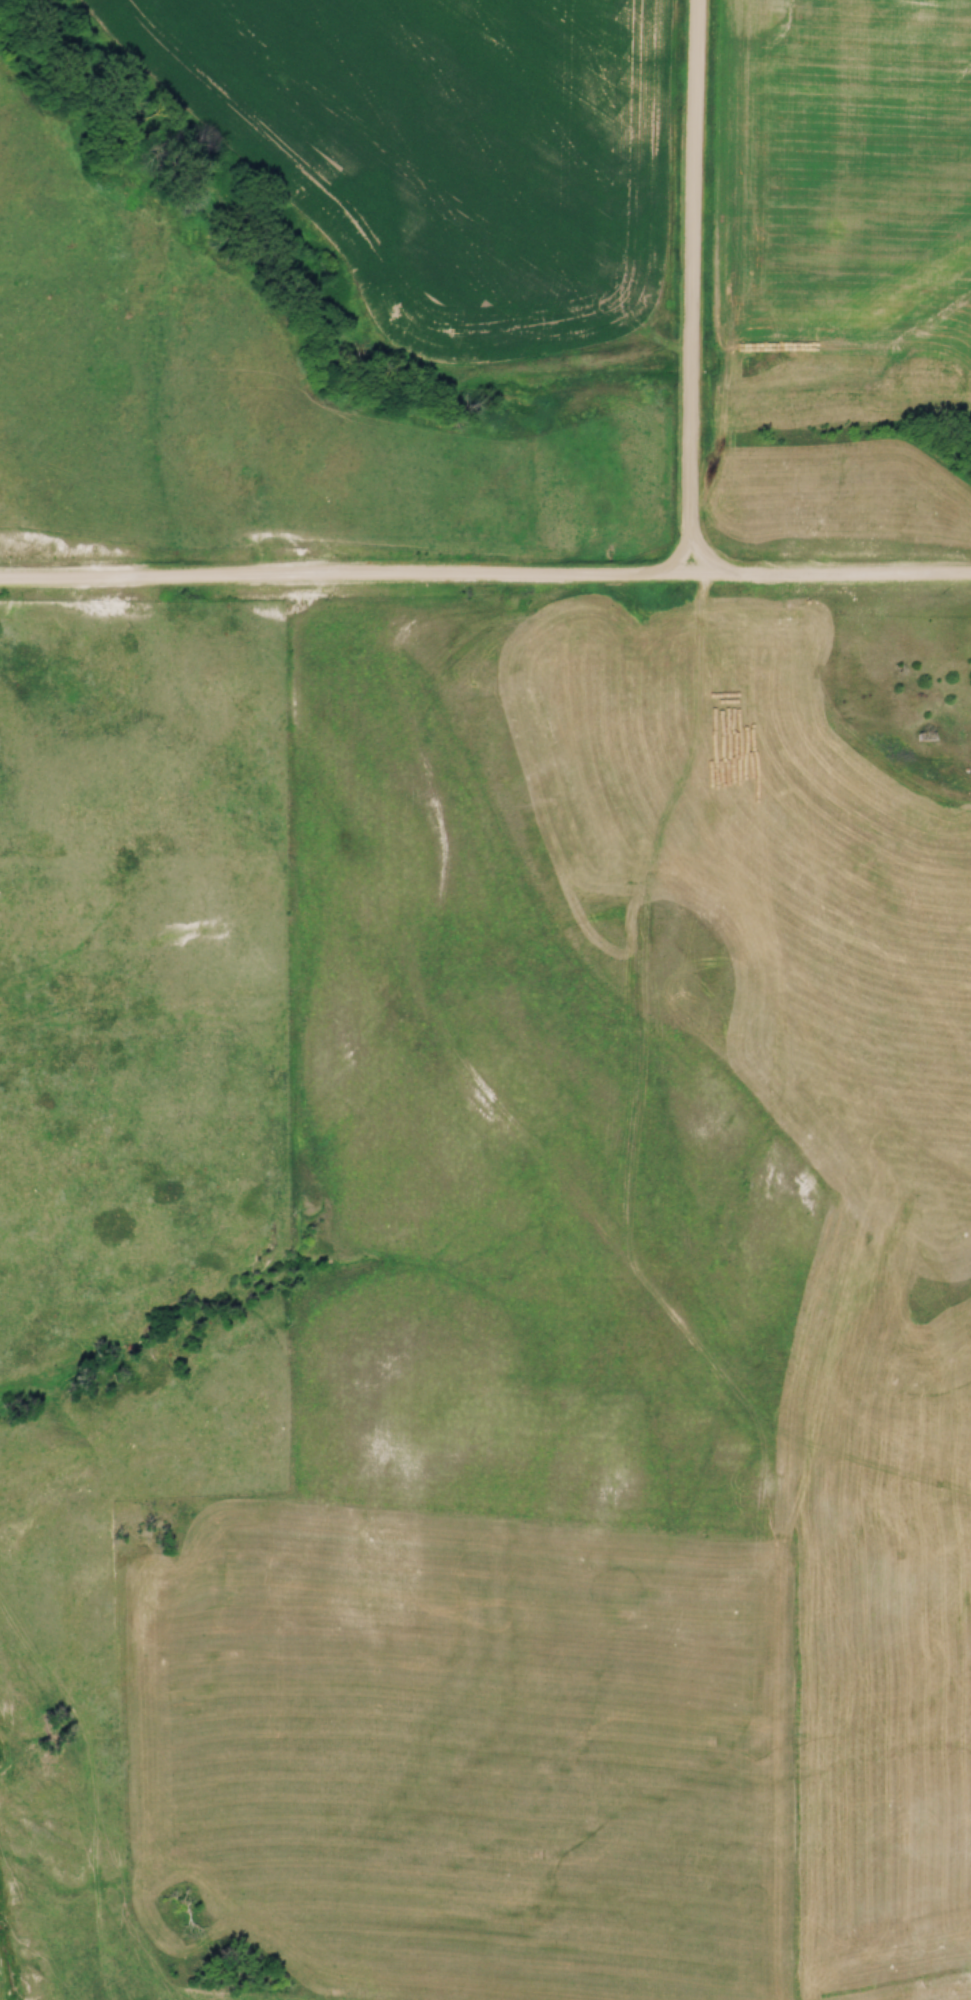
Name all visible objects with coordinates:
road: (695, 289)
road: (831, 578)
road: (345, 579)

